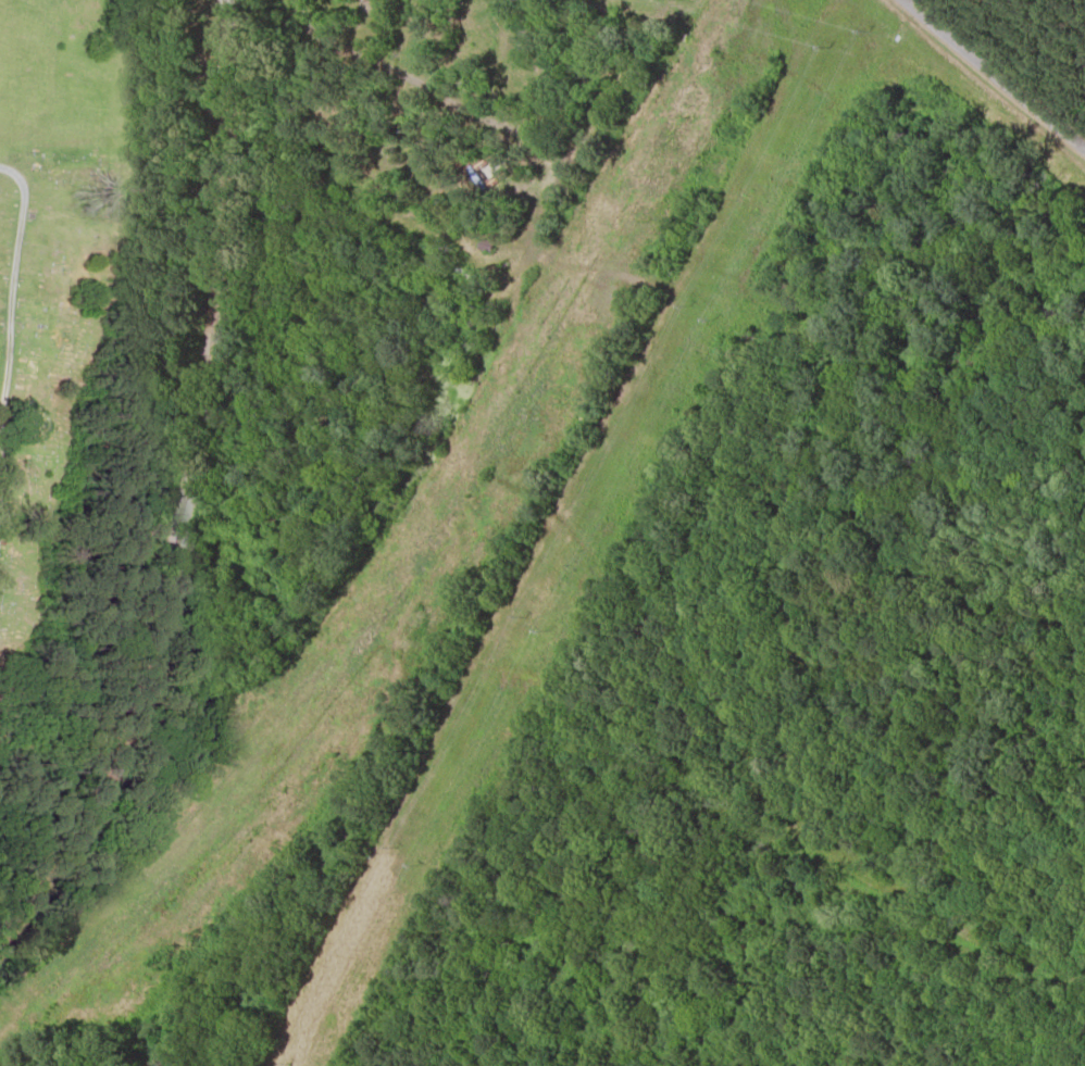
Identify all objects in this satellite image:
road: (996, 70)
park: (53, 266)
road: (12, 285)
railway: (189, 478)

